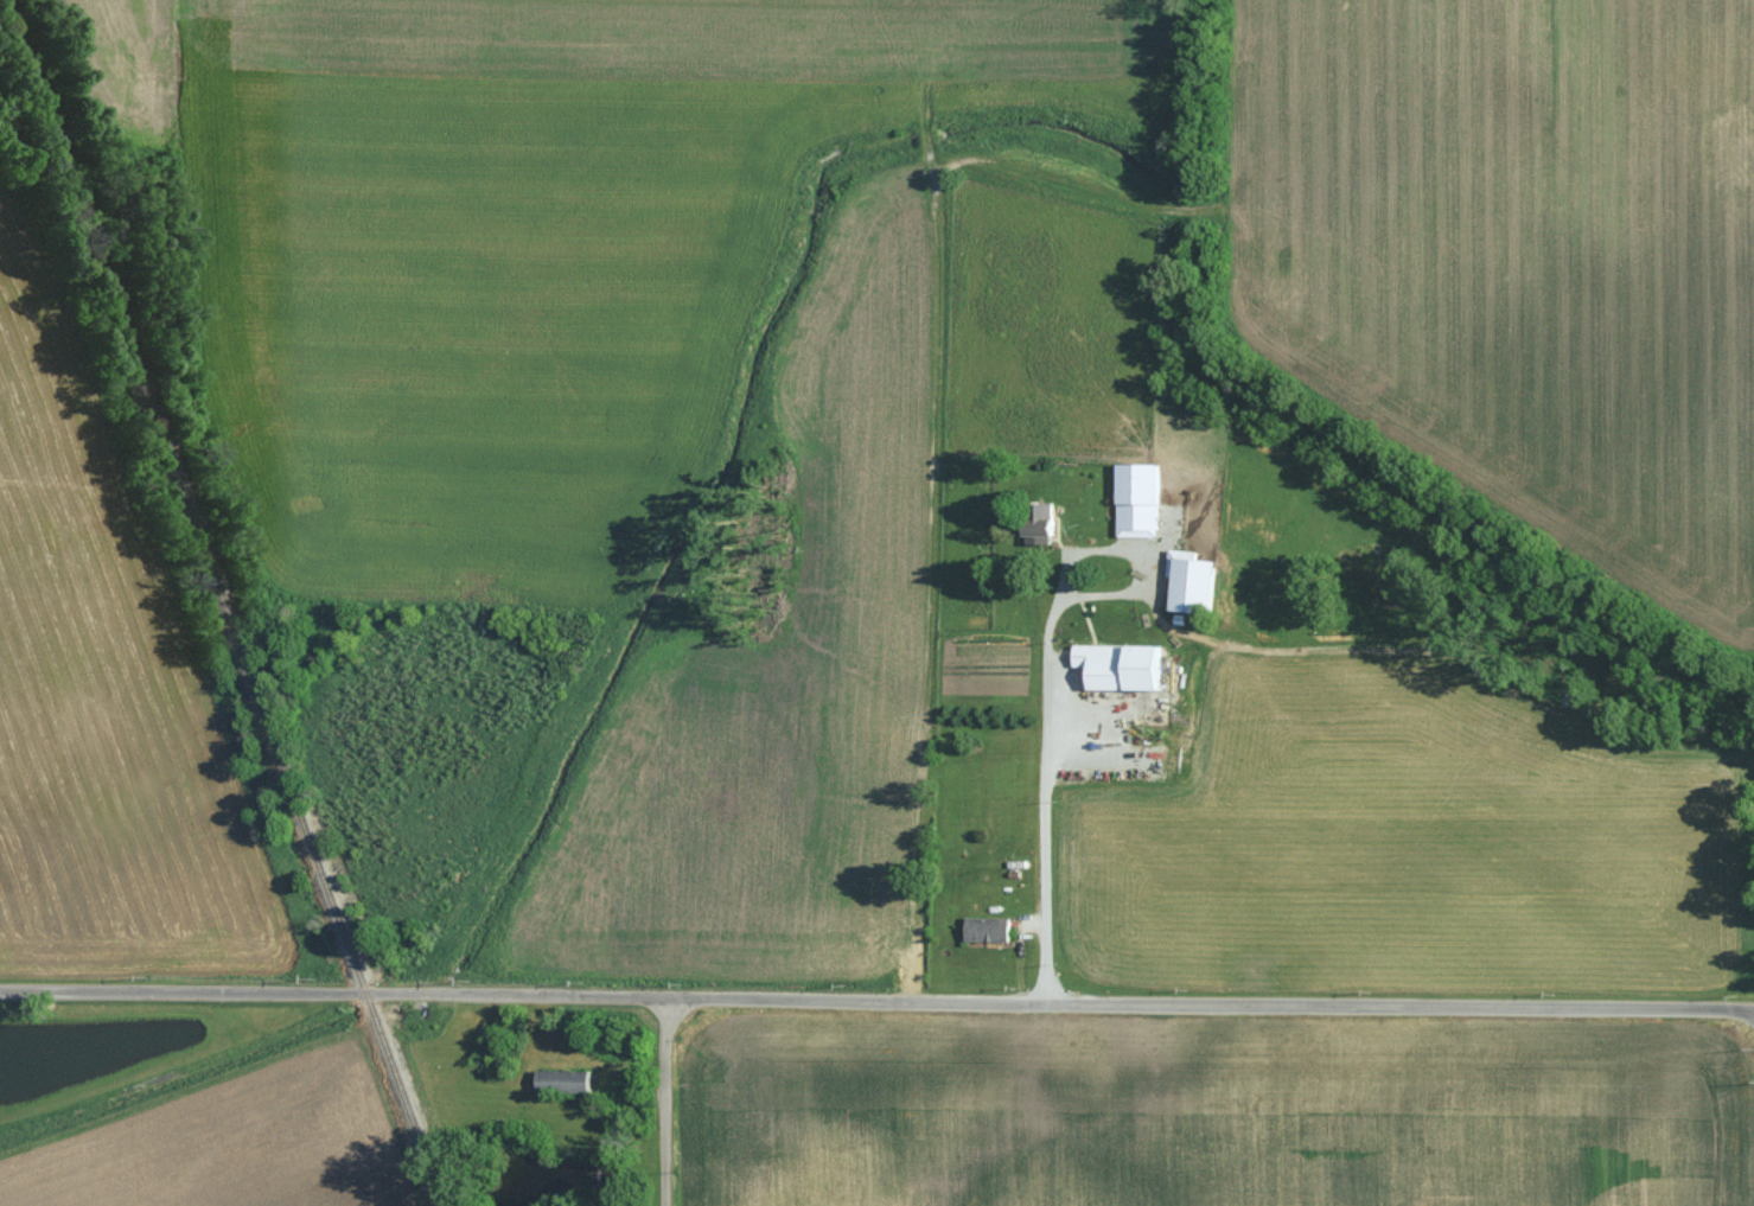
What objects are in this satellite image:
road: (1079, 557)
building: (1199, 581)
railway: (225, 602)
building: (1117, 674)
road: (1045, 796)
building: (993, 929)
road: (876, 1001)
road: (664, 1102)

